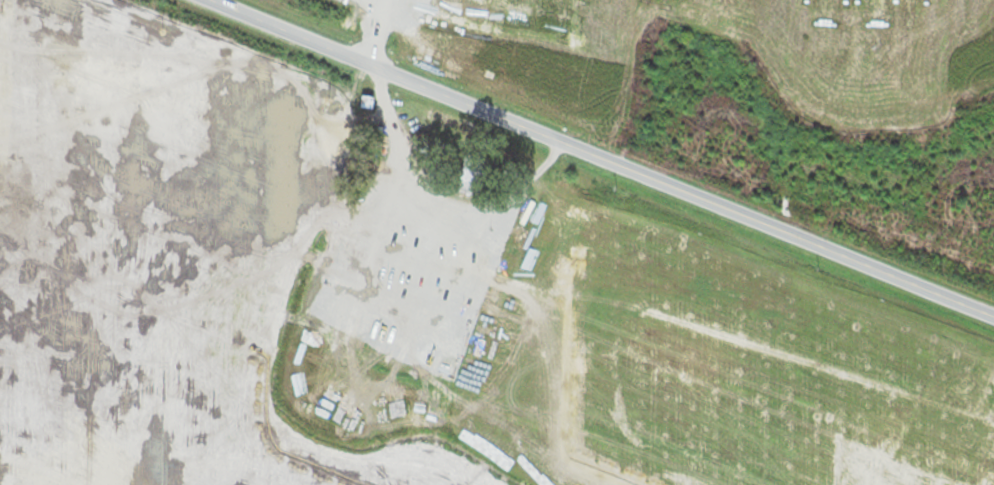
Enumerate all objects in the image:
road: (377, 33)
solar farm: (735, 52)
building: (370, 100)
road: (602, 158)
building: (412, 205)
solar farm: (415, 296)

